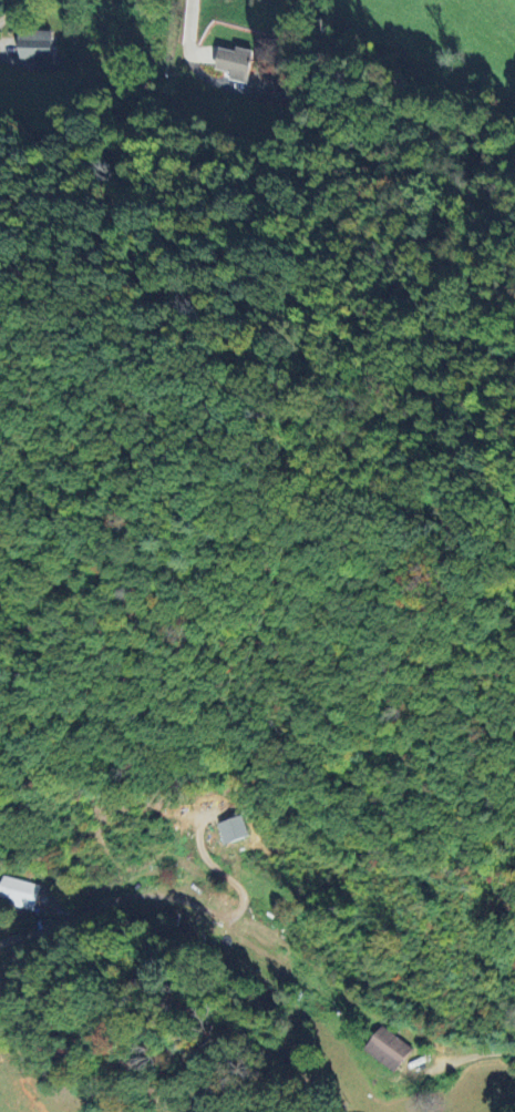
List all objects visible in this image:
road: (12, 9)
road: (187, 35)
road: (6, 42)
building: (37, 47)
building: (235, 62)
building: (234, 828)
building: (19, 891)
road: (182, 900)
road: (10, 938)
building: (389, 1048)
road: (471, 1055)

